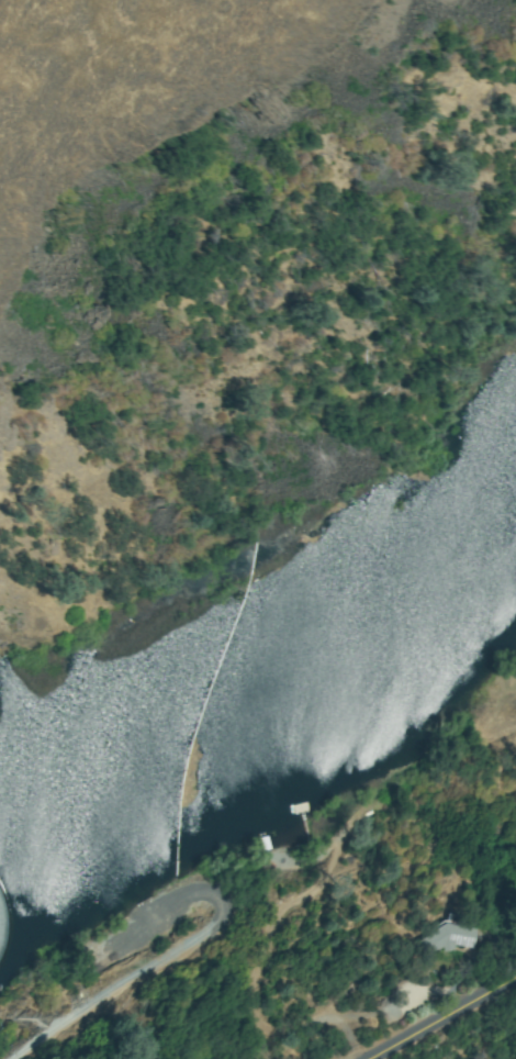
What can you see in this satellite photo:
building: (447, 938)
building: (408, 1006)
storage tank: (393, 1013)
road: (460, 1026)

